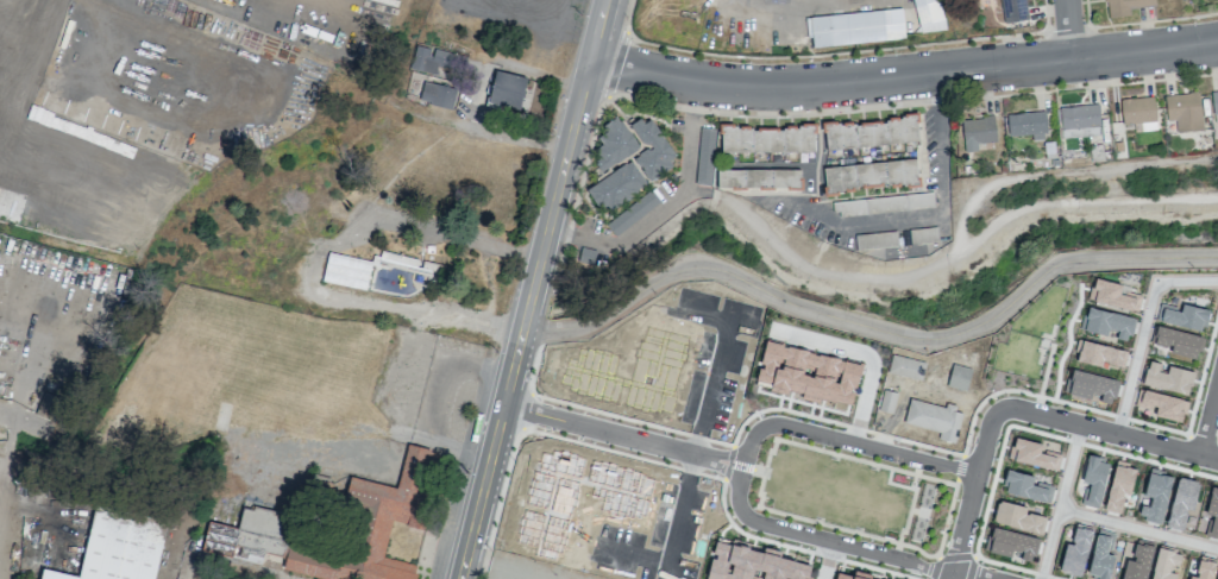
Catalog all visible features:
road: (772, 1)
building: (1125, 6)
building: (1013, 11)
building: (925, 15)
building: (855, 27)
road: (1072, 31)
building: (435, 59)
road: (903, 78)
building: (507, 92)
road: (476, 94)
building: (437, 95)
building: (1184, 112)
building: (1138, 113)
building: (1080, 122)
building: (1026, 125)
building: (977, 132)
building: (871, 133)
building: (767, 139)
building: (613, 145)
building: (652, 149)
building: (704, 157)
road: (565, 163)
building: (869, 175)
building: (758, 180)
building: (616, 187)
building: (883, 204)
building: (632, 213)
road: (928, 215)
road: (647, 220)
building: (919, 235)
building: (875, 240)
building: (586, 256)
road: (322, 258)
building: (346, 271)
building: (1112, 295)
building: (1184, 316)
building: (1107, 323)
road: (869, 327)
road: (1142, 329)
building: (1178, 341)
road: (862, 353)
building: (1100, 354)
building: (879, 359)
building: (905, 367)
building: (630, 372)
building: (809, 373)
building: (959, 377)
building: (1168, 378)
building: (1091, 385)
building: (1163, 404)
building: (45, 405)
building: (934, 418)
road: (1208, 420)
road: (702, 424)
road: (1005, 427)
road: (1101, 433)
road: (622, 436)
road: (845, 440)
road: (492, 452)
building: (1094, 480)
building: (1025, 486)
building: (1119, 486)
road: (969, 493)
building: (1156, 496)
building: (576, 498)
road: (1060, 502)
building: (1181, 503)
building: (1212, 512)
building: (1017, 517)
building: (375, 524)
road: (1138, 528)
building: (247, 535)
road: (822, 540)
building: (1011, 543)
building: (118, 547)
road: (829, 561)
building: (752, 564)
road: (503, 569)
building: (1204, 569)
building: (853, 575)
road: (952, 575)
road: (967, 575)
building: (1217, 575)

